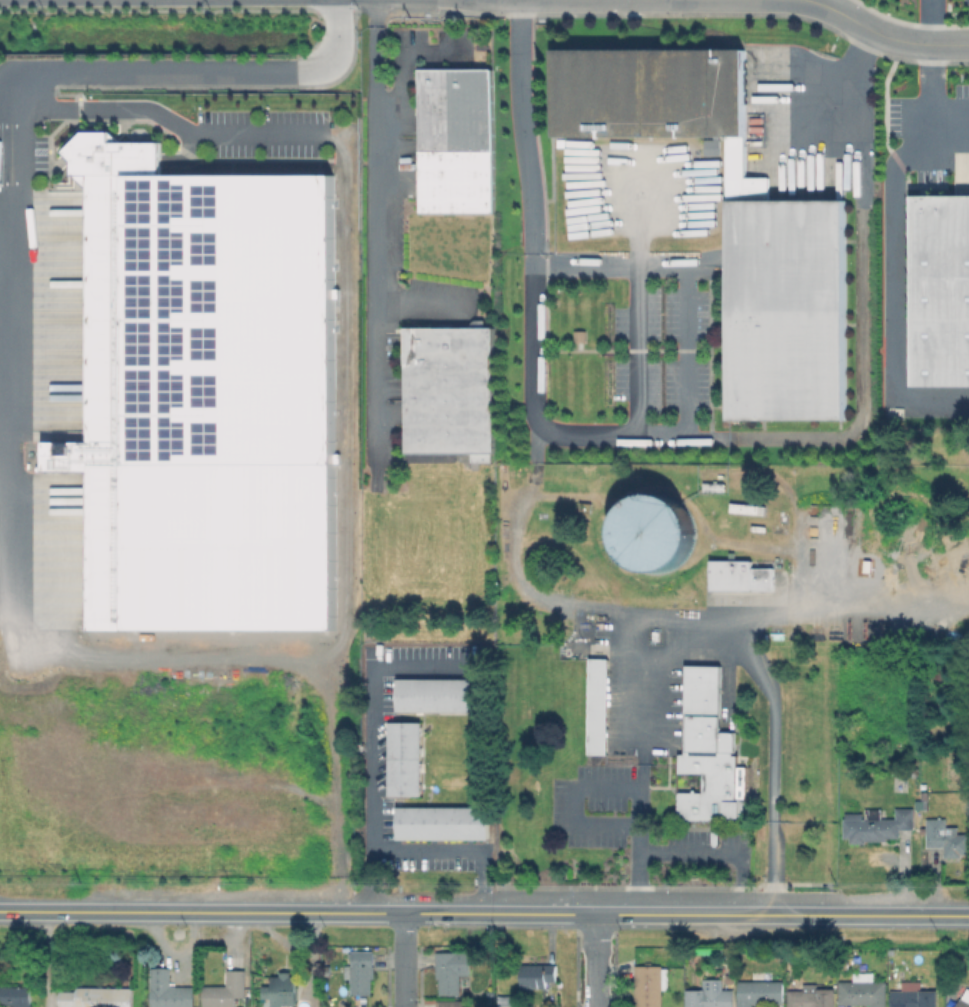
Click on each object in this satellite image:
road: (935, 22)
road: (882, 35)
road: (401, 64)
building: (649, 94)
road: (823, 99)
road: (935, 104)
road: (177, 123)
road: (527, 133)
building: (458, 140)
building: (711, 146)
road: (18, 156)
road: (372, 226)
building: (937, 292)
road: (897, 295)
road: (416, 303)
building: (789, 314)
building: (208, 315)
road: (860, 335)
road: (641, 352)
building: (451, 391)
road: (692, 433)
building: (644, 515)
water tower: (652, 532)
building: (737, 575)
road: (288, 645)
road: (765, 665)
building: (441, 694)
building: (599, 706)
building: (885, 721)
road: (371, 743)
building: (709, 752)
building: (406, 758)
road: (593, 790)
building: (797, 821)
building: (444, 822)
building: (878, 827)
building: (949, 841)
road: (455, 850)
road: (691, 859)
road: (247, 910)
road: (662, 915)
road: (899, 916)
road: (404, 960)
road: (594, 961)
building: (452, 970)
building: (360, 971)
building: (538, 975)
building: (651, 985)
building: (285, 988)
building: (169, 990)
building: (227, 990)
building: (863, 990)
building: (760, 992)
building: (491, 993)
building: (710, 995)
building: (14, 996)
building: (809, 996)
building: (914, 996)
building: (96, 998)
building: (507, 1000)
building: (962, 1002)
building: (456, 1004)

